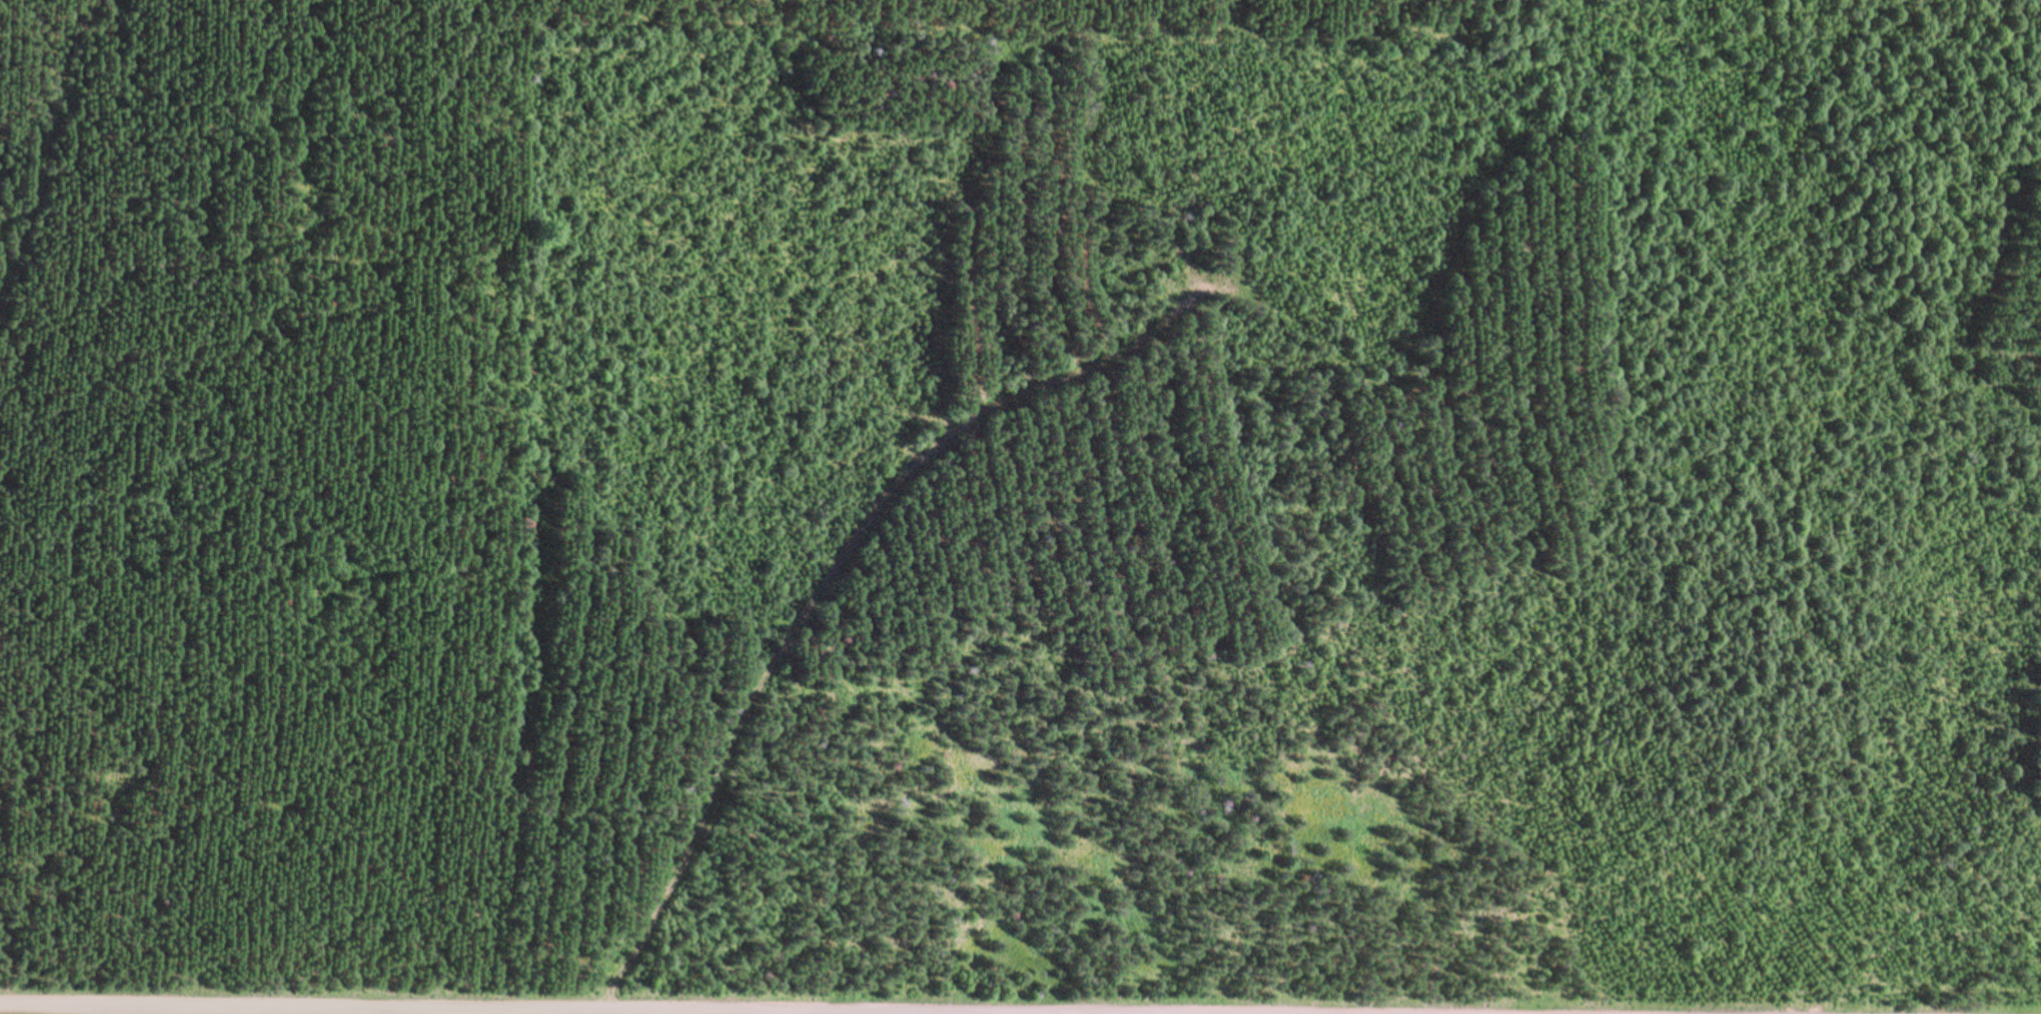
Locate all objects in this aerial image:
road: (554, 1012)

